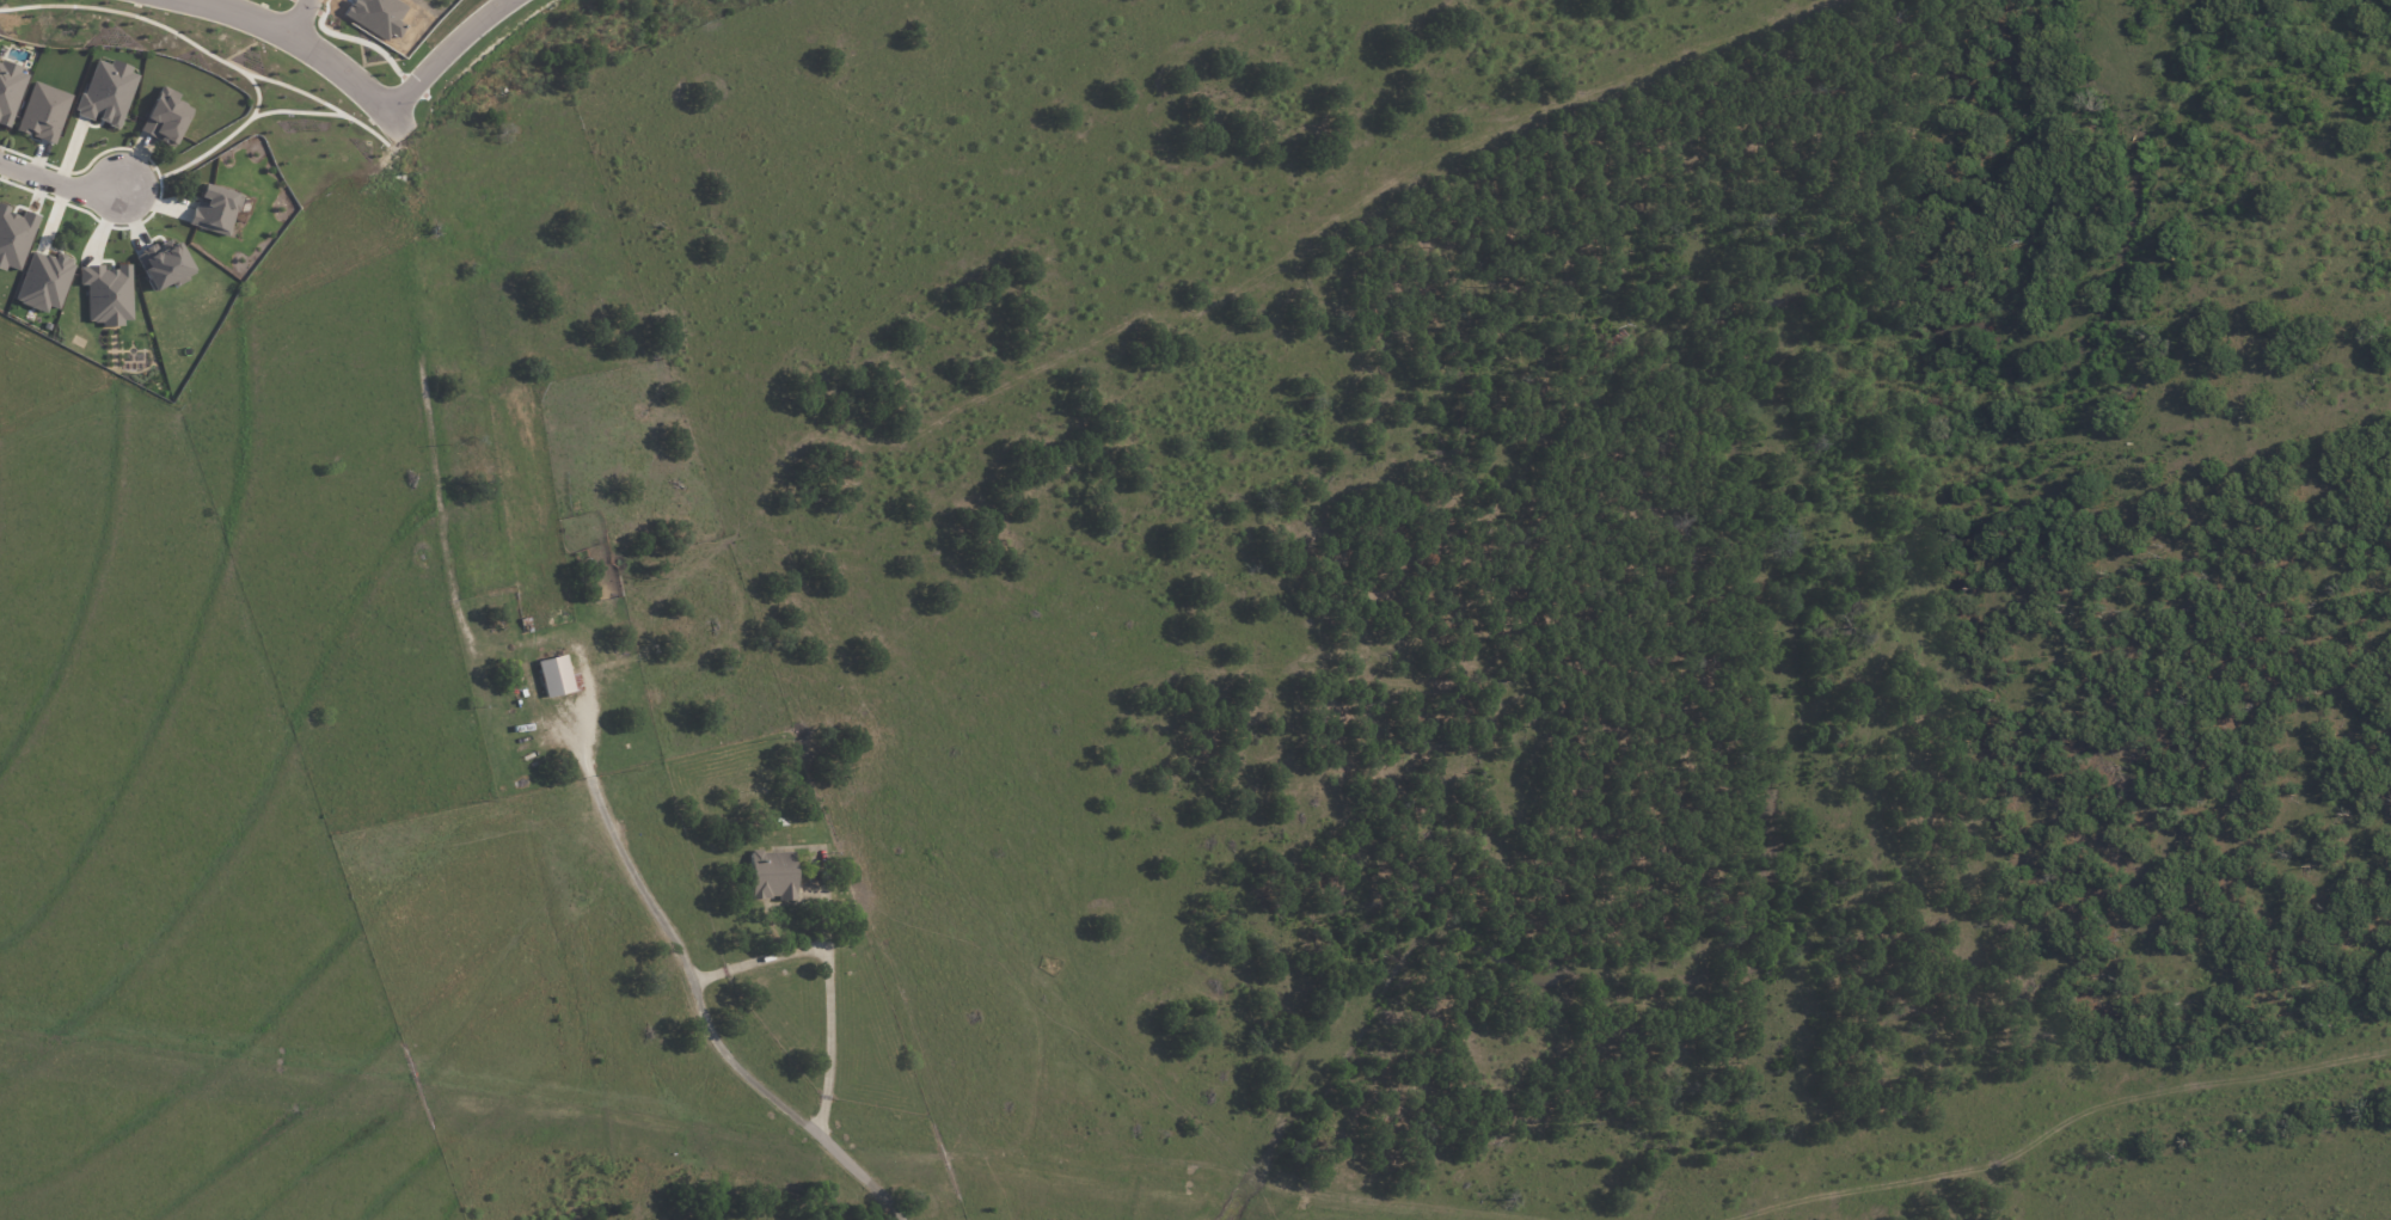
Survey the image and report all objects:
road: (231, 2)
road: (302, 13)
road: (1837, 45)
road: (446, 47)
building: (11, 91)
building: (108, 92)
building: (44, 112)
building: (166, 117)
road: (1504, 153)
road: (633, 174)
road: (60, 179)
building: (215, 209)
road: (1322, 217)
road: (1089, 226)
building: (14, 237)
building: (165, 265)
building: (44, 281)
road: (477, 287)
building: (108, 294)
road: (876, 302)
road: (1086, 452)
road: (909, 507)
road: (380, 545)
road: (153, 583)
road: (1195, 620)
road: (349, 650)
building: (554, 676)
road: (993, 716)
road: (612, 828)
road: (33, 832)
road: (145, 834)
road: (343, 847)
road: (1191, 862)
building: (773, 875)
road: (756, 961)
road: (741, 1074)
road: (858, 1169)

